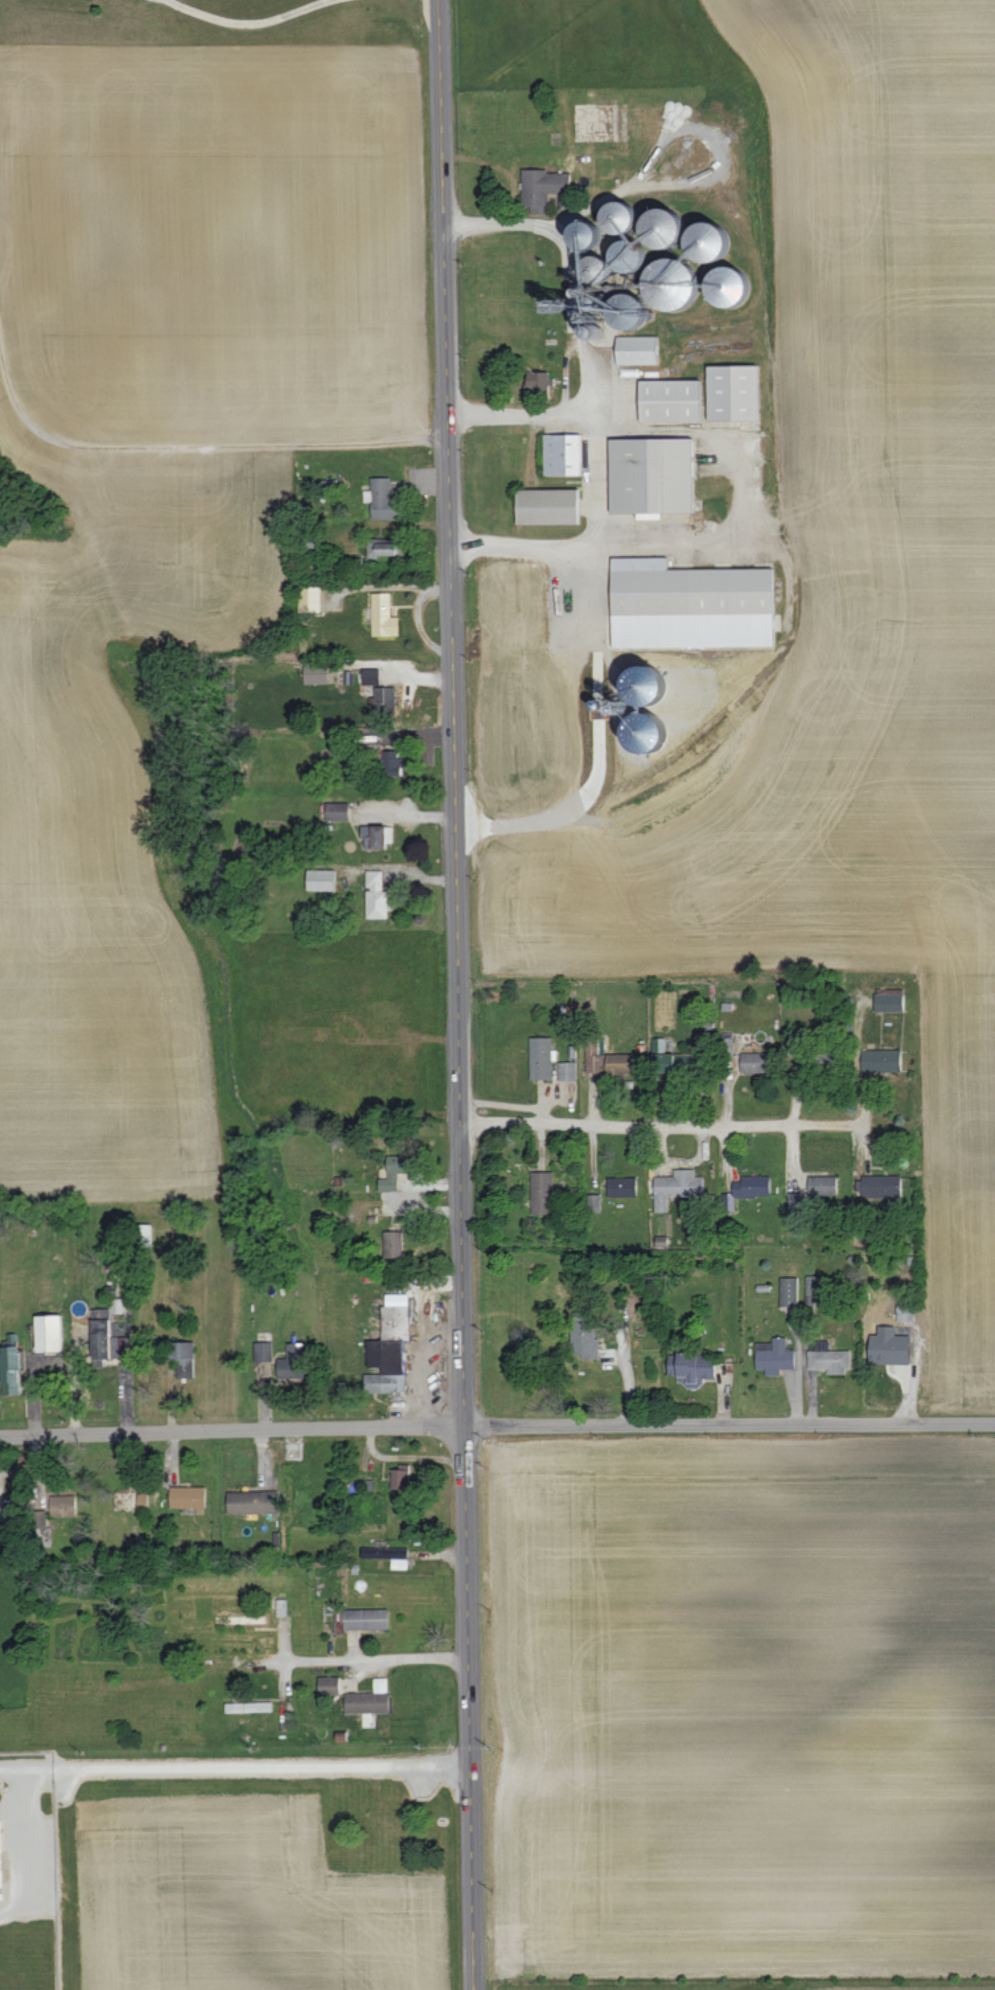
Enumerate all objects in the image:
road: (247, 22)
building: (542, 186)
building: (663, 236)
building: (685, 267)
building: (728, 285)
building: (637, 349)
building: (733, 392)
building: (670, 400)
building: (562, 453)
building: (653, 475)
building: (384, 500)
building: (548, 506)
building: (381, 547)
building: (310, 598)
building: (690, 605)
building: (383, 615)
building: (316, 673)
building: (371, 675)
building: (647, 684)
building: (385, 699)
building: (647, 732)
building: (394, 763)
building: (337, 810)
building: (374, 836)
building: (321, 879)
building: (377, 895)
road: (459, 994)
building: (890, 999)
building: (541, 1057)
building: (674, 1058)
building: (607, 1059)
building: (886, 1059)
building: (754, 1062)
building: (567, 1070)
road: (664, 1123)
building: (393, 1172)
building: (823, 1185)
building: (622, 1186)
building: (677, 1186)
building: (752, 1186)
building: (882, 1186)
building: (542, 1192)
building: (794, 1200)
building: (393, 1243)
building: (810, 1288)
building: (789, 1291)
building: (905, 1312)
building: (49, 1332)
building: (109, 1332)
building: (586, 1340)
building: (390, 1346)
building: (889, 1346)
building: (263, 1351)
building: (774, 1355)
building: (184, 1359)
building: (830, 1360)
building: (294, 1361)
building: (692, 1368)
road: (497, 1426)
building: (400, 1476)
building: (188, 1496)
building: (143, 1497)
building: (253, 1501)
building: (63, 1505)
building: (389, 1555)
building: (364, 1619)
road: (377, 1658)
building: (329, 1685)
building: (370, 1698)
building: (249, 1706)
road: (236, 1767)
building: (0, 1855)

